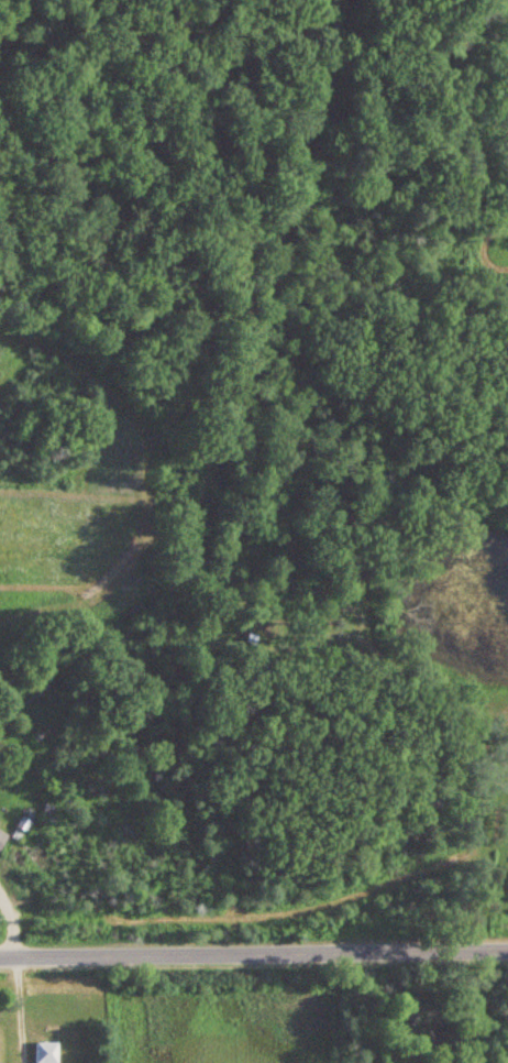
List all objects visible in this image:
building: (1, 836)
road: (254, 952)
road: (16, 1008)
building: (41, 1052)

